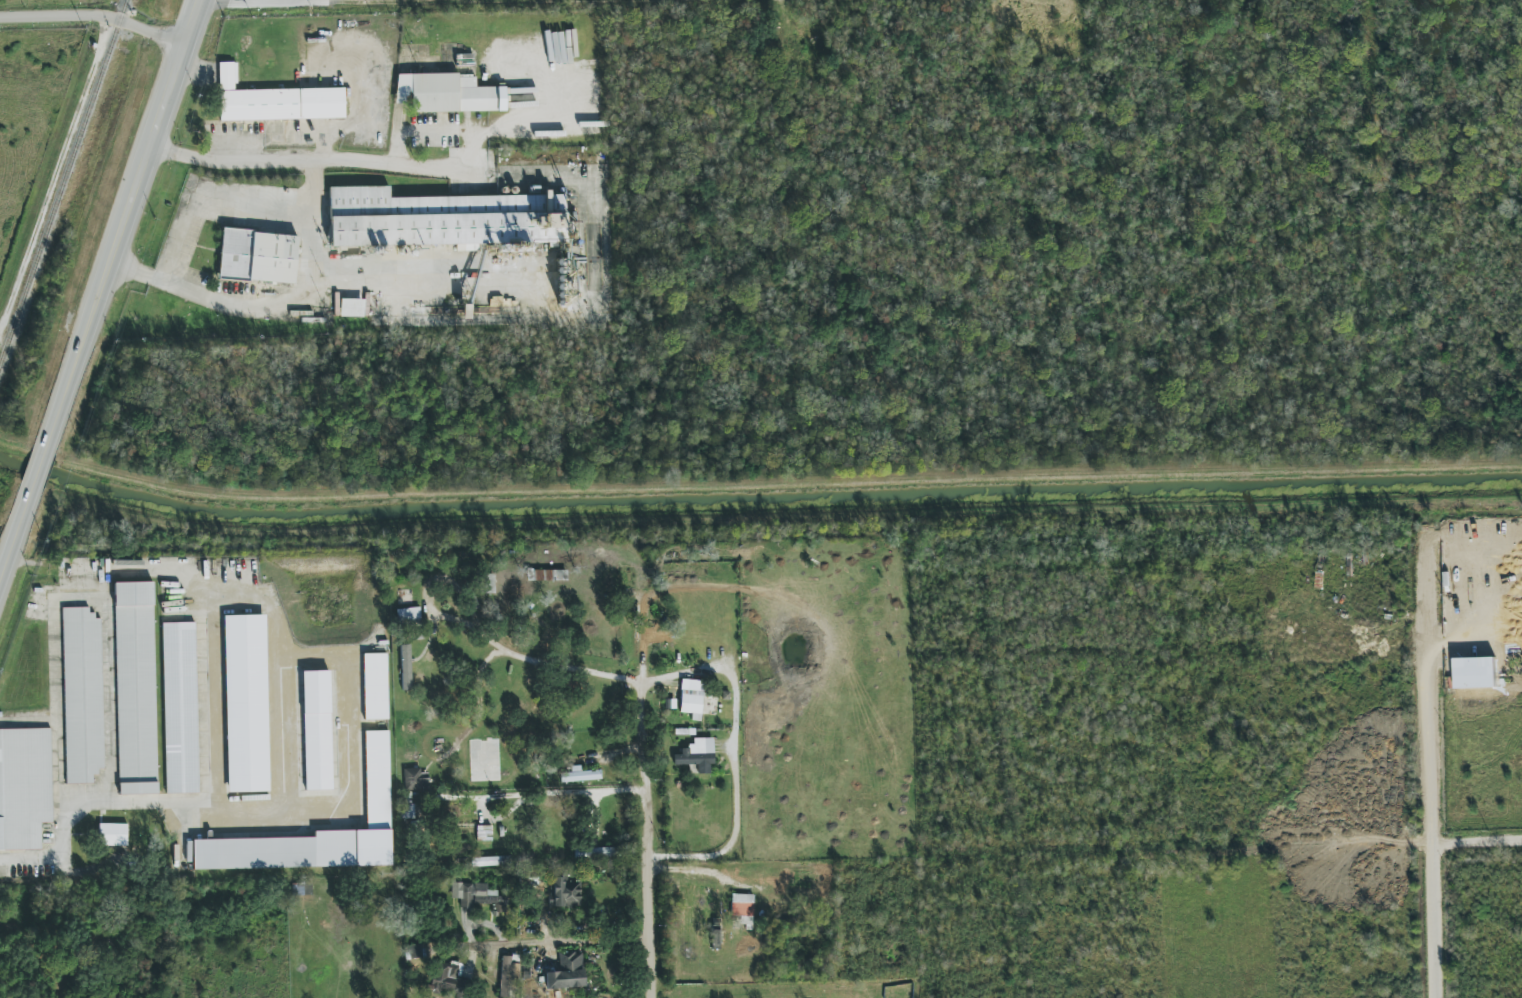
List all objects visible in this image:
road: (93, 15)
building: (447, 93)
building: (275, 101)
road: (157, 130)
road: (323, 157)
road: (57, 173)
railway: (63, 181)
road: (212, 198)
building: (441, 219)
building: (258, 257)
road: (139, 271)
road: (301, 293)
building: (352, 307)
road: (80, 359)
road: (36, 469)
road: (15, 531)
road: (760, 541)
building: (546, 575)
building: (489, 583)
building: (408, 615)
road: (516, 653)
building: (406, 667)
building: (375, 686)
building: (136, 688)
building: (82, 695)
building: (691, 698)
building: (246, 703)
building: (180, 708)
building: (317, 730)
road: (1426, 747)
building: (697, 755)
road: (735, 757)
building: (580, 775)
building: (416, 780)
building: (24, 787)
road: (213, 789)
road: (543, 793)
building: (318, 832)
building: (484, 833)
building: (113, 834)
road: (643, 840)
building: (489, 861)
road: (1430, 879)
building: (302, 888)
building: (564, 893)
building: (479, 897)
building: (742, 908)
building: (716, 938)
road: (548, 941)
building: (413, 952)
building: (508, 972)
building: (567, 972)
building: (448, 979)

